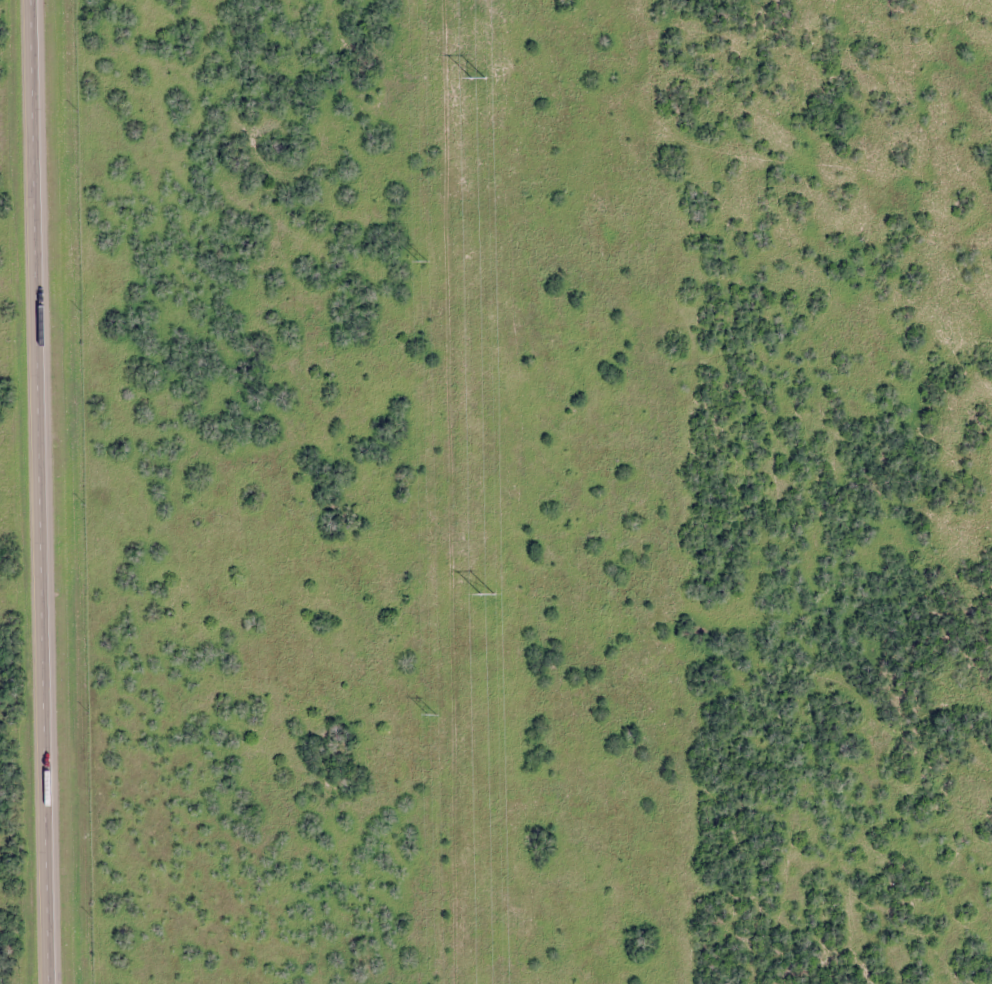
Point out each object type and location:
power tower: (473, 81)
power tower: (422, 262)
road: (43, 491)
power tower: (485, 597)
power tower: (430, 716)

